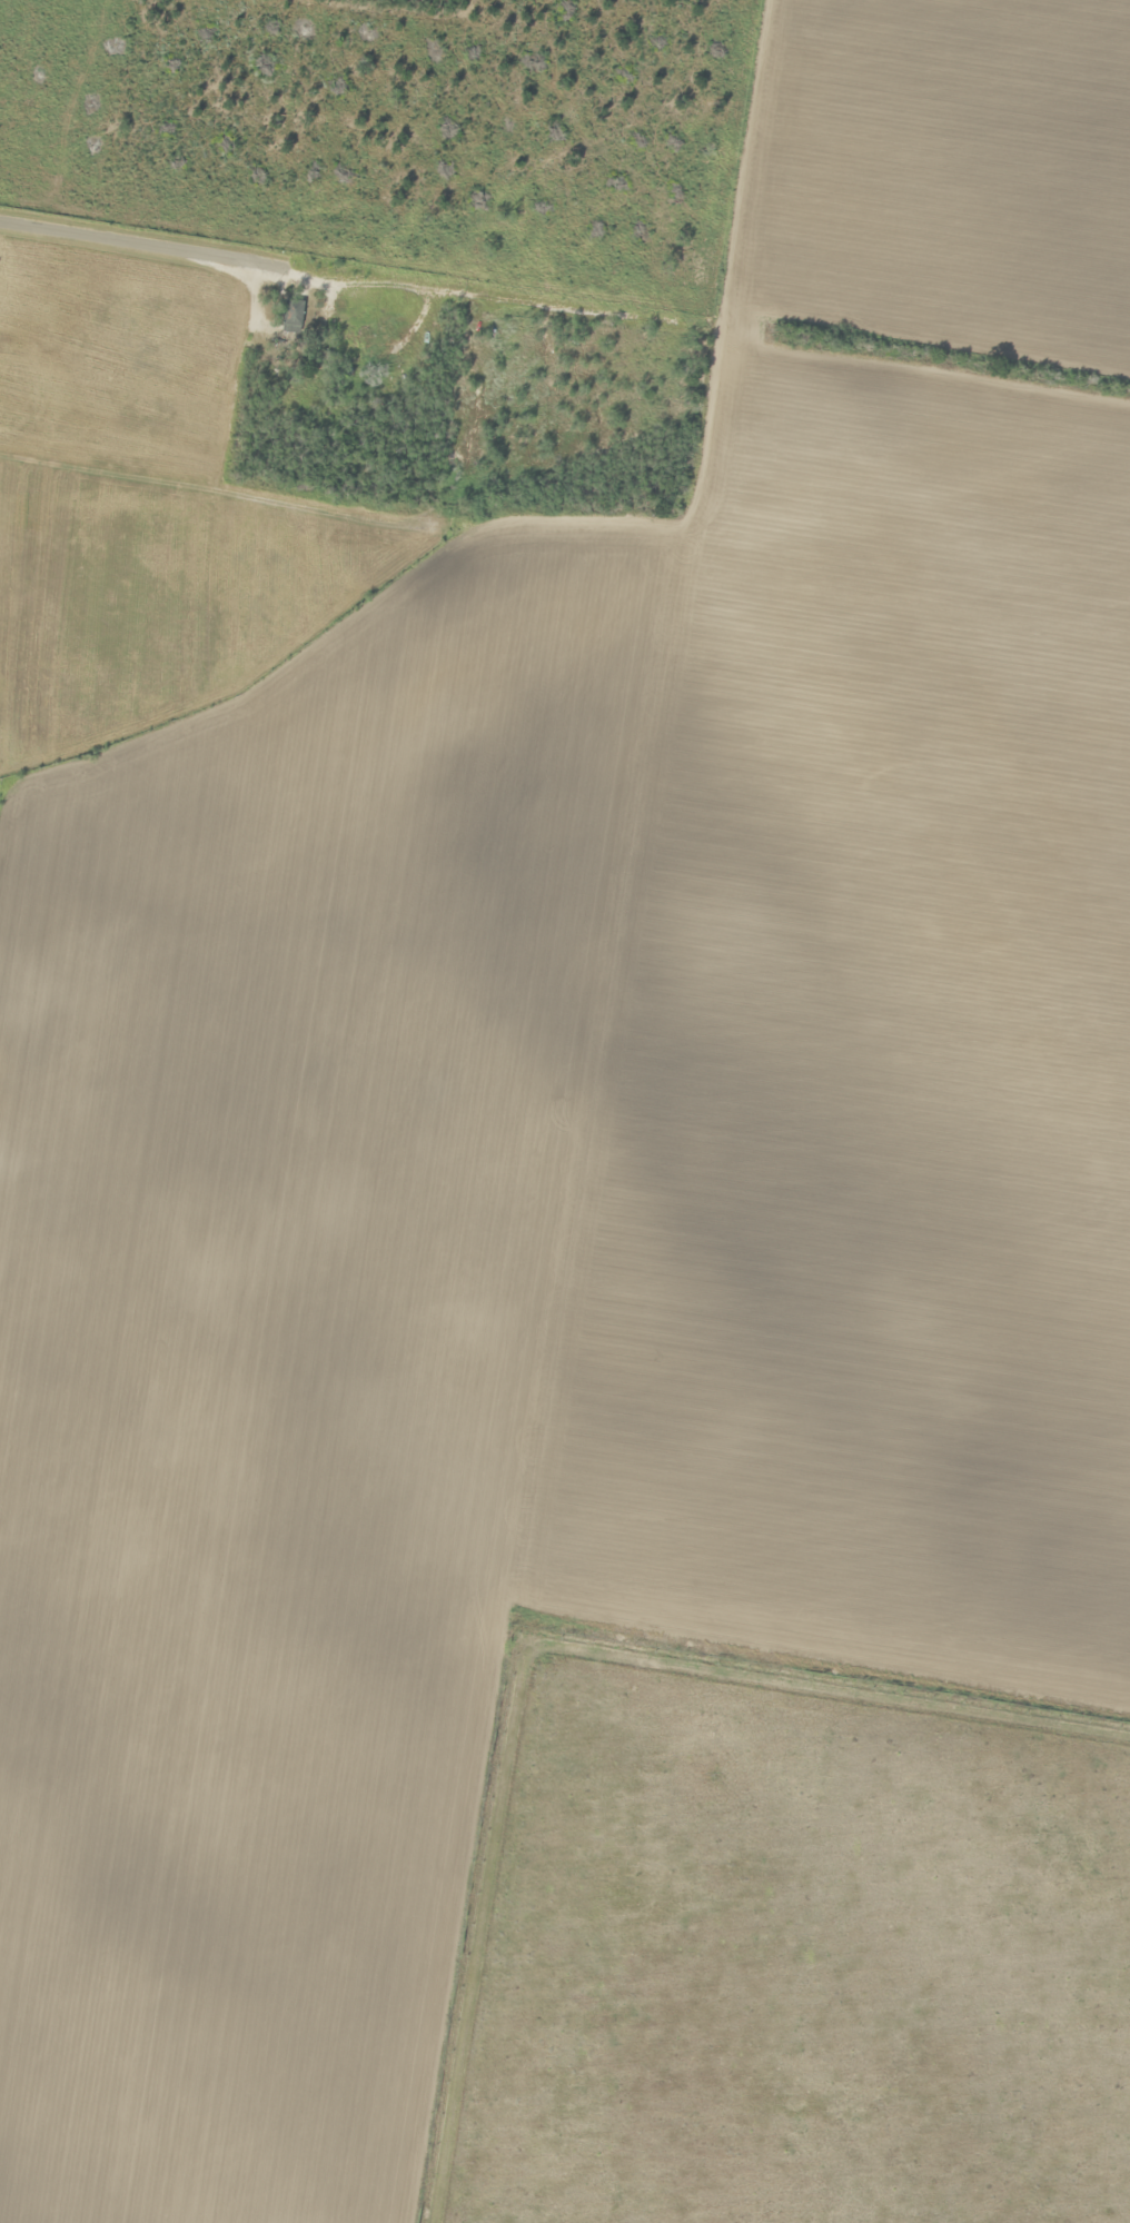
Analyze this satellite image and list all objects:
road: (731, 157)
road: (354, 266)
building: (290, 317)
road: (919, 345)
building: (353, 347)
railway: (445, 619)

